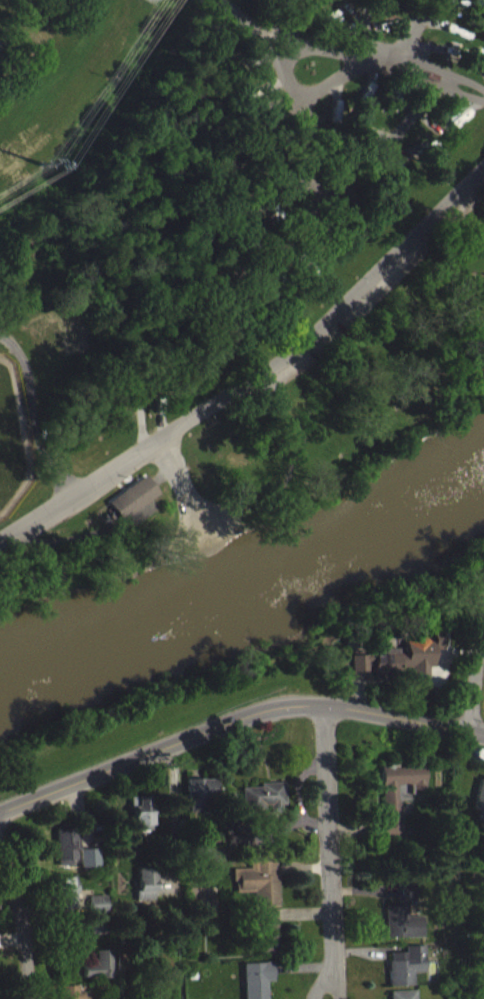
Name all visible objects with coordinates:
building: (333, 23)
road: (416, 32)
road: (379, 59)
building: (336, 112)
park: (306, 118)
power tower: (37, 163)
park: (235, 258)
road: (256, 375)
road: (33, 412)
park: (8, 440)
road: (184, 492)
building: (131, 495)
river: (250, 604)
road: (452, 652)
building: (397, 656)
road: (472, 676)
road: (357, 690)
road: (236, 719)
road: (297, 786)
building: (395, 789)
building: (196, 790)
building: (263, 794)
building: (478, 794)
building: (138, 811)
road: (173, 817)
road: (354, 826)
road: (284, 830)
road: (328, 830)
building: (233, 840)
building: (64, 843)
building: (85, 857)
road: (301, 865)
building: (144, 881)
building: (258, 881)
building: (64, 888)
road: (363, 889)
building: (97, 901)
road: (54, 908)
road: (303, 912)
building: (401, 913)
road: (56, 923)
building: (98, 923)
road: (22, 925)
building: (262, 930)
road: (12, 937)
road: (364, 948)
building: (98, 963)
building: (404, 963)
road: (302, 965)
road: (321, 977)
road: (335, 977)
building: (255, 978)
building: (70, 991)
building: (103, 997)
building: (401, 997)

